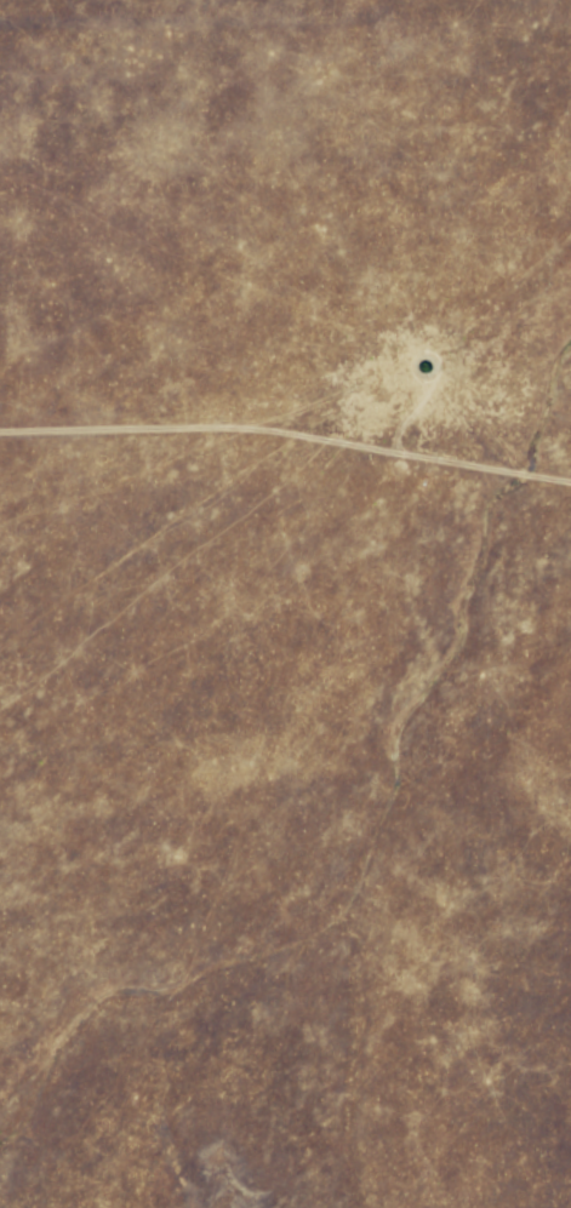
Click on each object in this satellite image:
road: (287, 433)

